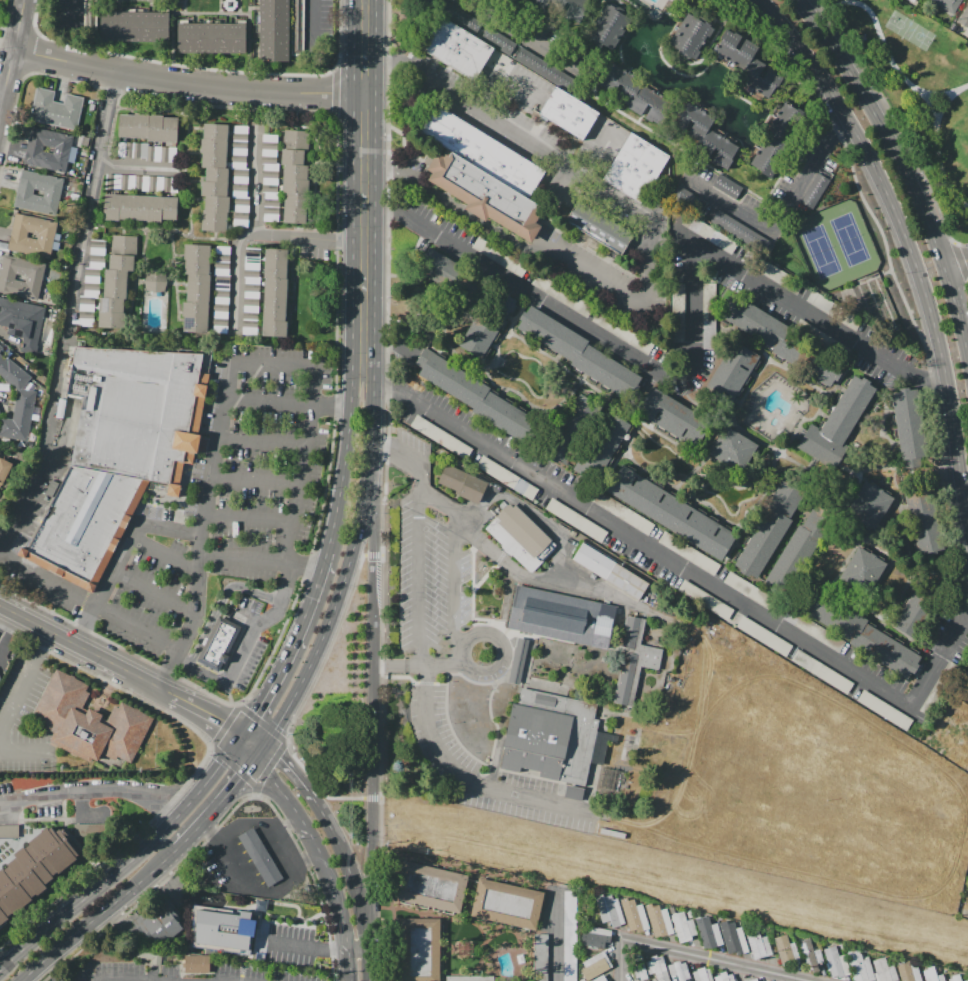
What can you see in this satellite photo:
building: (911, 0)
building: (546, 5)
building: (947, 5)
building: (967, 7)
road: (75, 9)
road: (6, 13)
building: (90, 14)
building: (455, 14)
building: (967, 16)
road: (312, 25)
building: (608, 25)
road: (1, 26)
building: (135, 26)
building: (297, 28)
building: (274, 30)
park: (910, 31)
road: (1, 33)
building: (687, 33)
road: (878, 33)
road: (524, 35)
building: (211, 38)
building: (498, 41)
building: (727, 44)
building: (456, 48)
road: (29, 53)
road: (13, 56)
road: (201, 67)
building: (756, 70)
building: (547, 71)
road: (496, 76)
building: (620, 83)
road: (187, 84)
road: (334, 89)
park: (918, 89)
road: (957, 91)
building: (44, 106)
road: (933, 109)
building: (69, 112)
road: (473, 113)
building: (569, 113)
building: (692, 120)
building: (141, 125)
building: (126, 126)
building: (156, 128)
building: (170, 129)
building: (50, 140)
building: (297, 140)
building: (778, 140)
building: (717, 148)
building: (147, 151)
building: (482, 151)
road: (600, 155)
building: (46, 159)
road: (939, 163)
road: (902, 164)
road: (139, 166)
building: (636, 168)
building: (215, 178)
road: (255, 178)
building: (40, 182)
building: (141, 183)
parking lot: (706, 185)
building: (294, 186)
road: (363, 186)
building: (728, 188)
building: (814, 191)
building: (486, 194)
road: (91, 201)
building: (36, 202)
building: (140, 207)
road: (781, 212)
building: (34, 226)
building: (731, 226)
building: (599, 227)
building: (708, 233)
road: (252, 235)
road: (907, 237)
park: (849, 239)
building: (30, 245)
building: (98, 247)
park: (821, 251)
building: (499, 257)
road: (565, 257)
building: (96, 261)
road: (957, 262)
building: (22, 268)
building: (772, 271)
building: (450, 275)
building: (91, 276)
building: (156, 280)
building: (117, 281)
building: (19, 287)
building: (197, 288)
building: (91, 289)
building: (275, 293)
building: (561, 295)
building: (86, 303)
building: (678, 307)
building: (834, 310)
building: (708, 314)
building: (86, 318)
building: (22, 321)
building: (487, 322)
building: (623, 333)
road: (7, 338)
building: (781, 340)
road: (335, 343)
building: (1, 347)
building: (572, 348)
road: (693, 353)
building: (732, 368)
building: (474, 395)
building: (17, 401)
building: (61, 408)
building: (138, 413)
building: (673, 417)
road: (387, 422)
building: (907, 422)
building: (838, 424)
building: (572, 429)
building: (441, 437)
road: (46, 442)
road: (261, 443)
building: (601, 445)
building: (733, 449)
road: (344, 461)
building: (4, 470)
building: (507, 477)
road: (255, 478)
road: (300, 478)
building: (462, 483)
road: (208, 486)
parking lot: (216, 502)
building: (869, 506)
building: (671, 512)
building: (623, 513)
road: (246, 518)
building: (576, 520)
building: (924, 522)
building: (86, 525)
building: (769, 529)
building: (521, 537)
road: (560, 538)
building: (798, 550)
building: (689, 553)
road: (164, 555)
road: (372, 555)
road: (454, 556)
road: (121, 557)
road: (259, 559)
road: (347, 563)
road: (507, 565)
road: (680, 565)
building: (863, 570)
building: (610, 571)
road: (154, 591)
building: (750, 591)
road: (89, 602)
road: (221, 602)
building: (708, 602)
building: (916, 610)
building: (832, 614)
building: (563, 617)
road: (7, 626)
building: (764, 636)
road: (64, 638)
parking lot: (250, 642)
road: (498, 642)
building: (220, 644)
road: (290, 646)
building: (890, 653)
building: (518, 661)
building: (634, 662)
road: (418, 665)
road: (198, 672)
road: (424, 672)
building: (821, 672)
road: (311, 681)
road: (25, 683)
road: (150, 683)
road: (372, 701)
building: (884, 710)
road: (206, 712)
traffic signals: (255, 713)
parking lot: (23, 719)
traffic signals: (225, 722)
building: (89, 723)
road: (253, 737)
building: (550, 737)
road: (260, 749)
road: (26, 752)
traffic signals: (282, 757)
road: (287, 765)
road: (196, 769)
traffic signals: (239, 776)
road: (961, 786)
road: (91, 791)
road: (734, 792)
building: (574, 793)
parking lot: (75, 794)
road: (339, 798)
road: (372, 798)
road: (217, 804)
road: (213, 826)
building: (90, 830)
parking lot: (90, 830)
building: (9, 831)
road: (315, 848)
building: (261, 857)
road: (128, 860)
road: (238, 860)
building: (34, 869)
road: (351, 882)
road: (167, 883)
building: (431, 887)
building: (507, 904)
building: (609, 910)
road: (98, 914)
building: (634, 916)
road: (126, 921)
building: (159, 921)
building: (658, 921)
building: (683, 926)
building: (224, 927)
building: (708, 933)
building: (569, 936)
parking lot: (569, 936)
building: (596, 937)
building: (733, 937)
road: (555, 938)
building: (759, 944)
parking lot: (290, 945)
road: (298, 946)
road: (346, 948)
building: (420, 950)
building: (786, 950)
building: (810, 954)
building: (150, 956)
road: (695, 957)
building: (836, 962)
building: (197, 964)
building: (595, 966)
building: (860, 966)
road: (52, 967)
building: (639, 967)
building: (657, 968)
parking lot: (245, 969)
building: (884, 970)
building: (679, 971)
building: (908, 972)
building: (702, 974)
building: (932, 975)
building: (724, 977)
building: (470, 978)
building: (600, 978)
building: (955, 978)
building: (753, 980)
building: (964, 980)
building: (966, 980)

